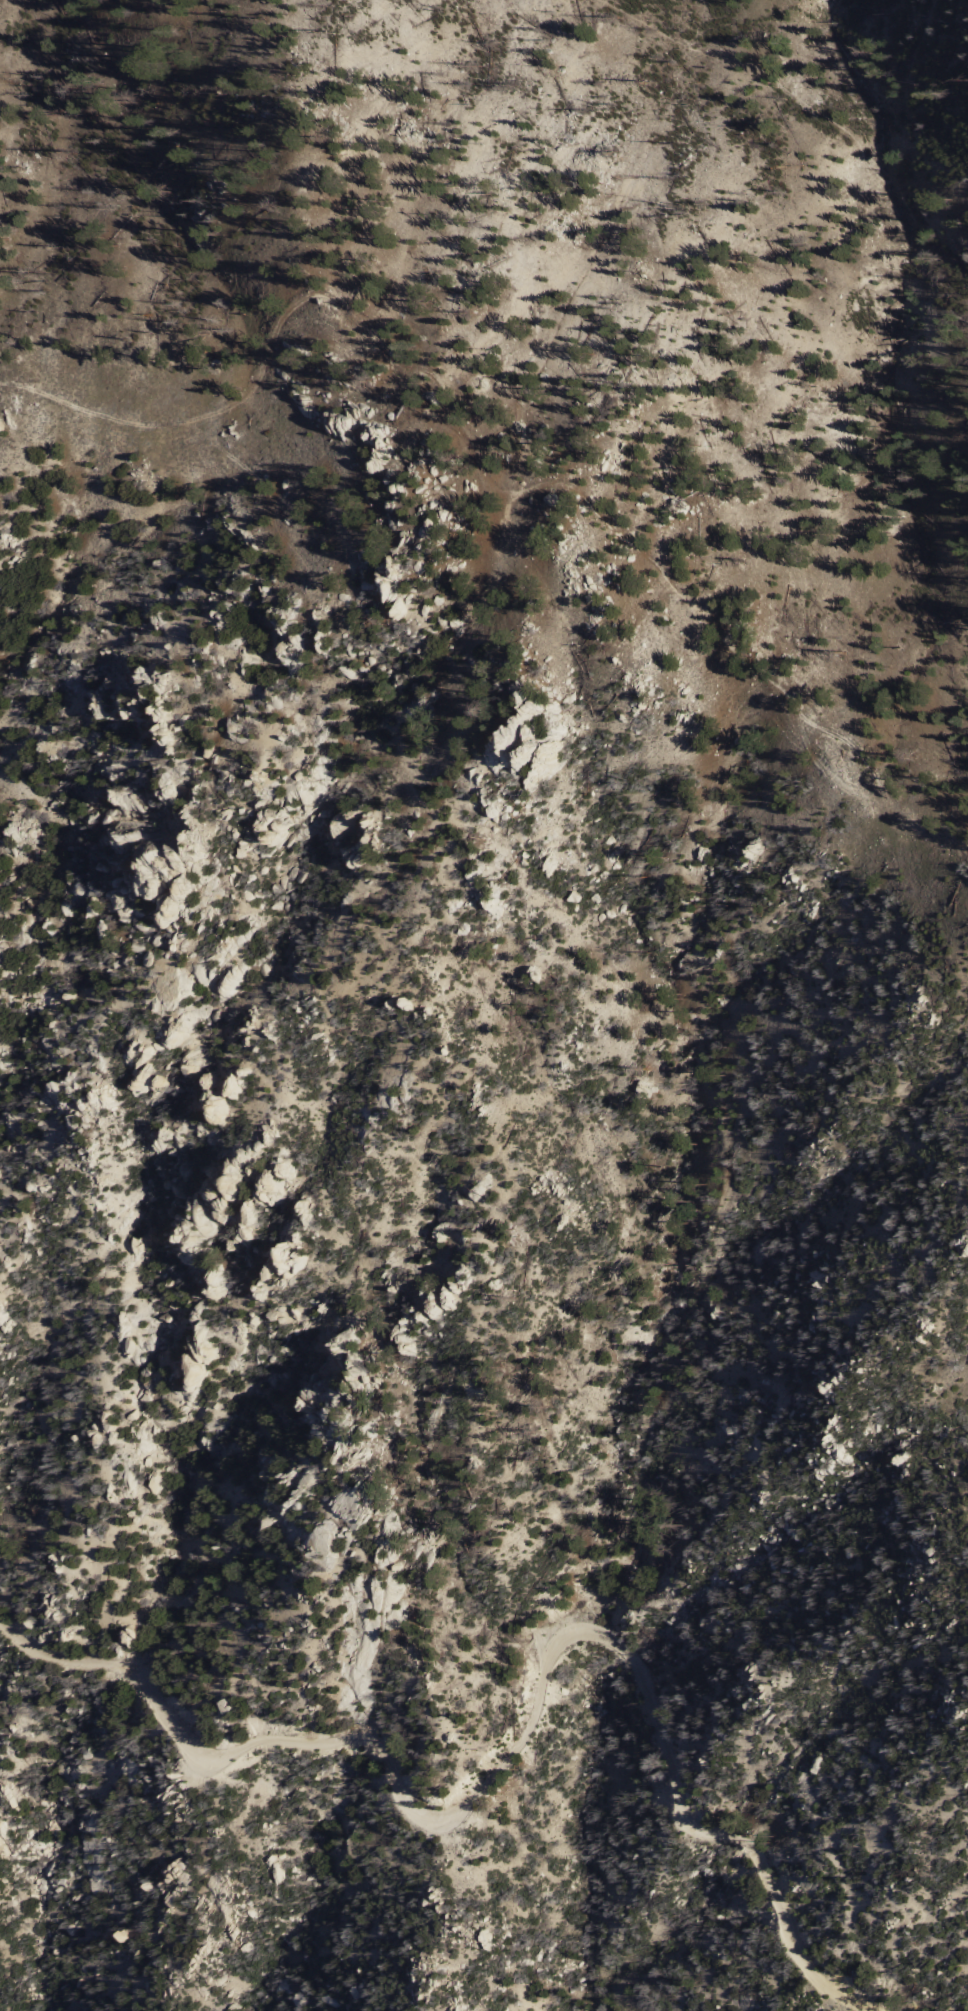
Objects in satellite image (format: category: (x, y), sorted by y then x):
road: (836, 123)
road: (482, 472)
road: (521, 1743)

